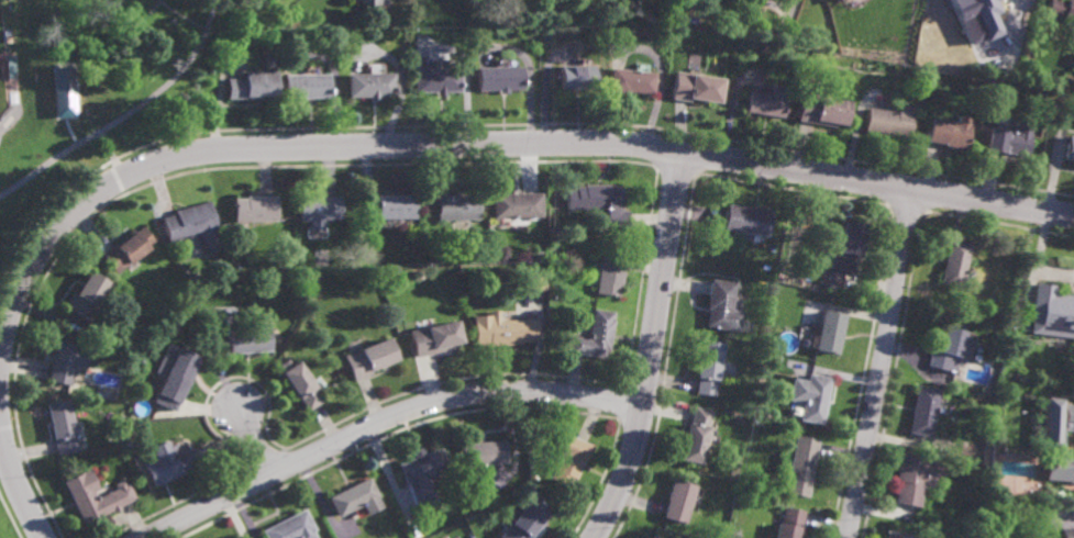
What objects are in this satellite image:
building: (842, 1)
building: (372, 3)
building: (244, 12)
building: (1062, 12)
road: (181, 16)
road: (145, 18)
building: (977, 18)
building: (1073, 59)
park: (3, 70)
building: (576, 75)
building: (498, 77)
building: (62, 78)
building: (436, 79)
building: (630, 80)
building: (254, 81)
building: (372, 83)
building: (695, 85)
building: (308, 86)
building: (768, 99)
building: (823, 107)
road: (130, 117)
building: (889, 120)
road: (4, 125)
building: (948, 131)
building: (1008, 139)
road: (487, 144)
building: (1069, 147)
road: (102, 150)
road: (114, 172)
building: (600, 201)
building: (514, 204)
building: (387, 206)
building: (455, 206)
building: (253, 209)
building: (317, 210)
building: (748, 218)
building: (192, 226)
building: (551, 229)
building: (849, 245)
building: (128, 248)
building: (478, 255)
building: (538, 256)
building: (953, 264)
building: (536, 269)
building: (607, 272)
building: (381, 278)
building: (533, 283)
building: (88, 295)
building: (722, 305)
building: (1052, 312)
building: (973, 313)
building: (170, 322)
building: (498, 330)
building: (830, 330)
building: (593, 336)
building: (429, 338)
building: (244, 339)
road: (653, 349)
building: (948, 350)
road: (0, 351)
building: (366, 358)
building: (67, 361)
road: (882, 365)
building: (709, 367)
building: (175, 373)
building: (298, 383)
building: (811, 396)
building: (921, 411)
road: (384, 418)
road: (9, 426)
building: (63, 426)
building: (697, 436)
building: (1056, 439)
road: (2, 441)
road: (255, 442)
building: (1072, 453)
building: (477, 458)
building: (567, 461)
building: (168, 463)
building: (801, 466)
building: (418, 468)
road: (15, 477)
building: (911, 479)
building: (100, 481)
building: (90, 497)
building: (353, 500)
building: (678, 501)
road: (10, 515)
building: (524, 522)
building: (790, 523)
building: (290, 528)
building: (1066, 533)
building: (895, 535)
building: (653, 537)

